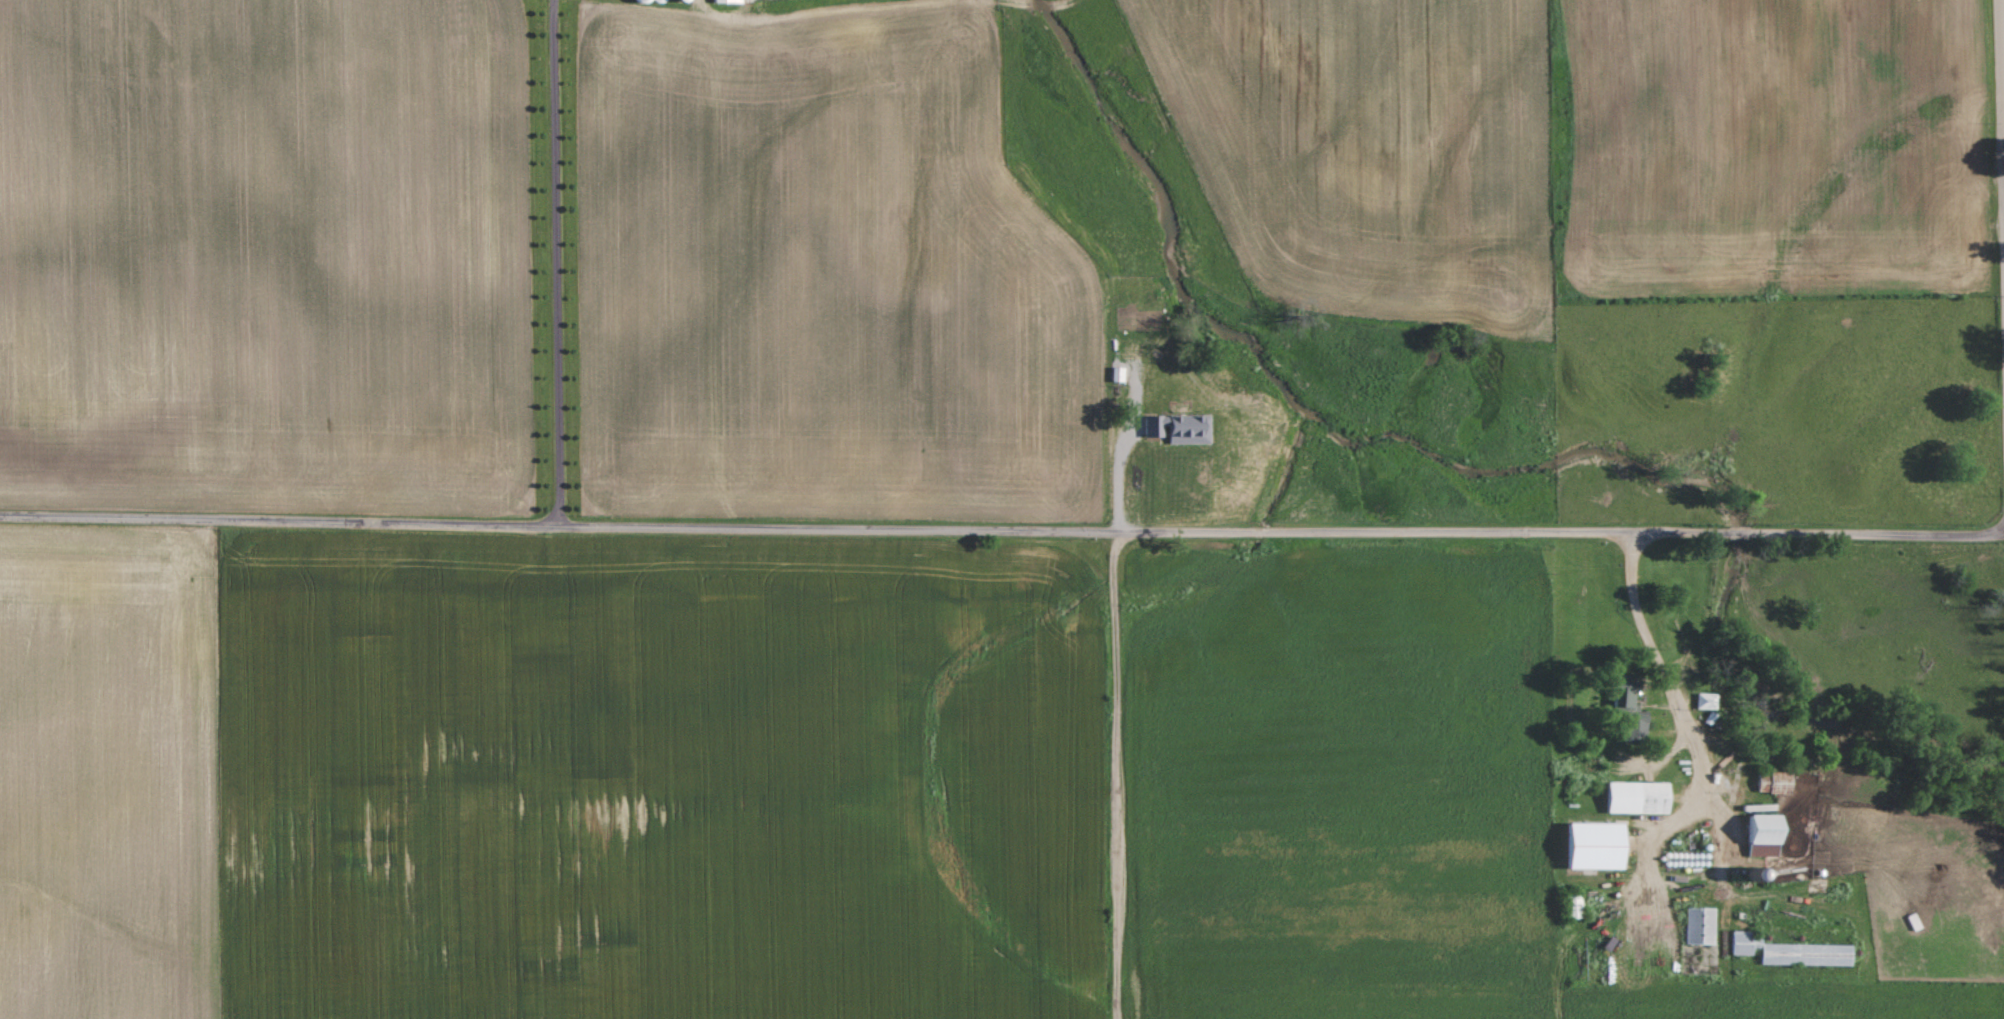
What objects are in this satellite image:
building: (752, 0)
building: (728, 1)
road: (2003, 11)
road: (555, 262)
road: (1001, 527)
road: (1669, 683)
building: (1629, 696)
building: (1707, 701)
road: (1117, 773)
building: (1640, 798)
building: (1767, 835)
building: (1598, 846)
building: (1701, 926)
building: (1793, 952)

